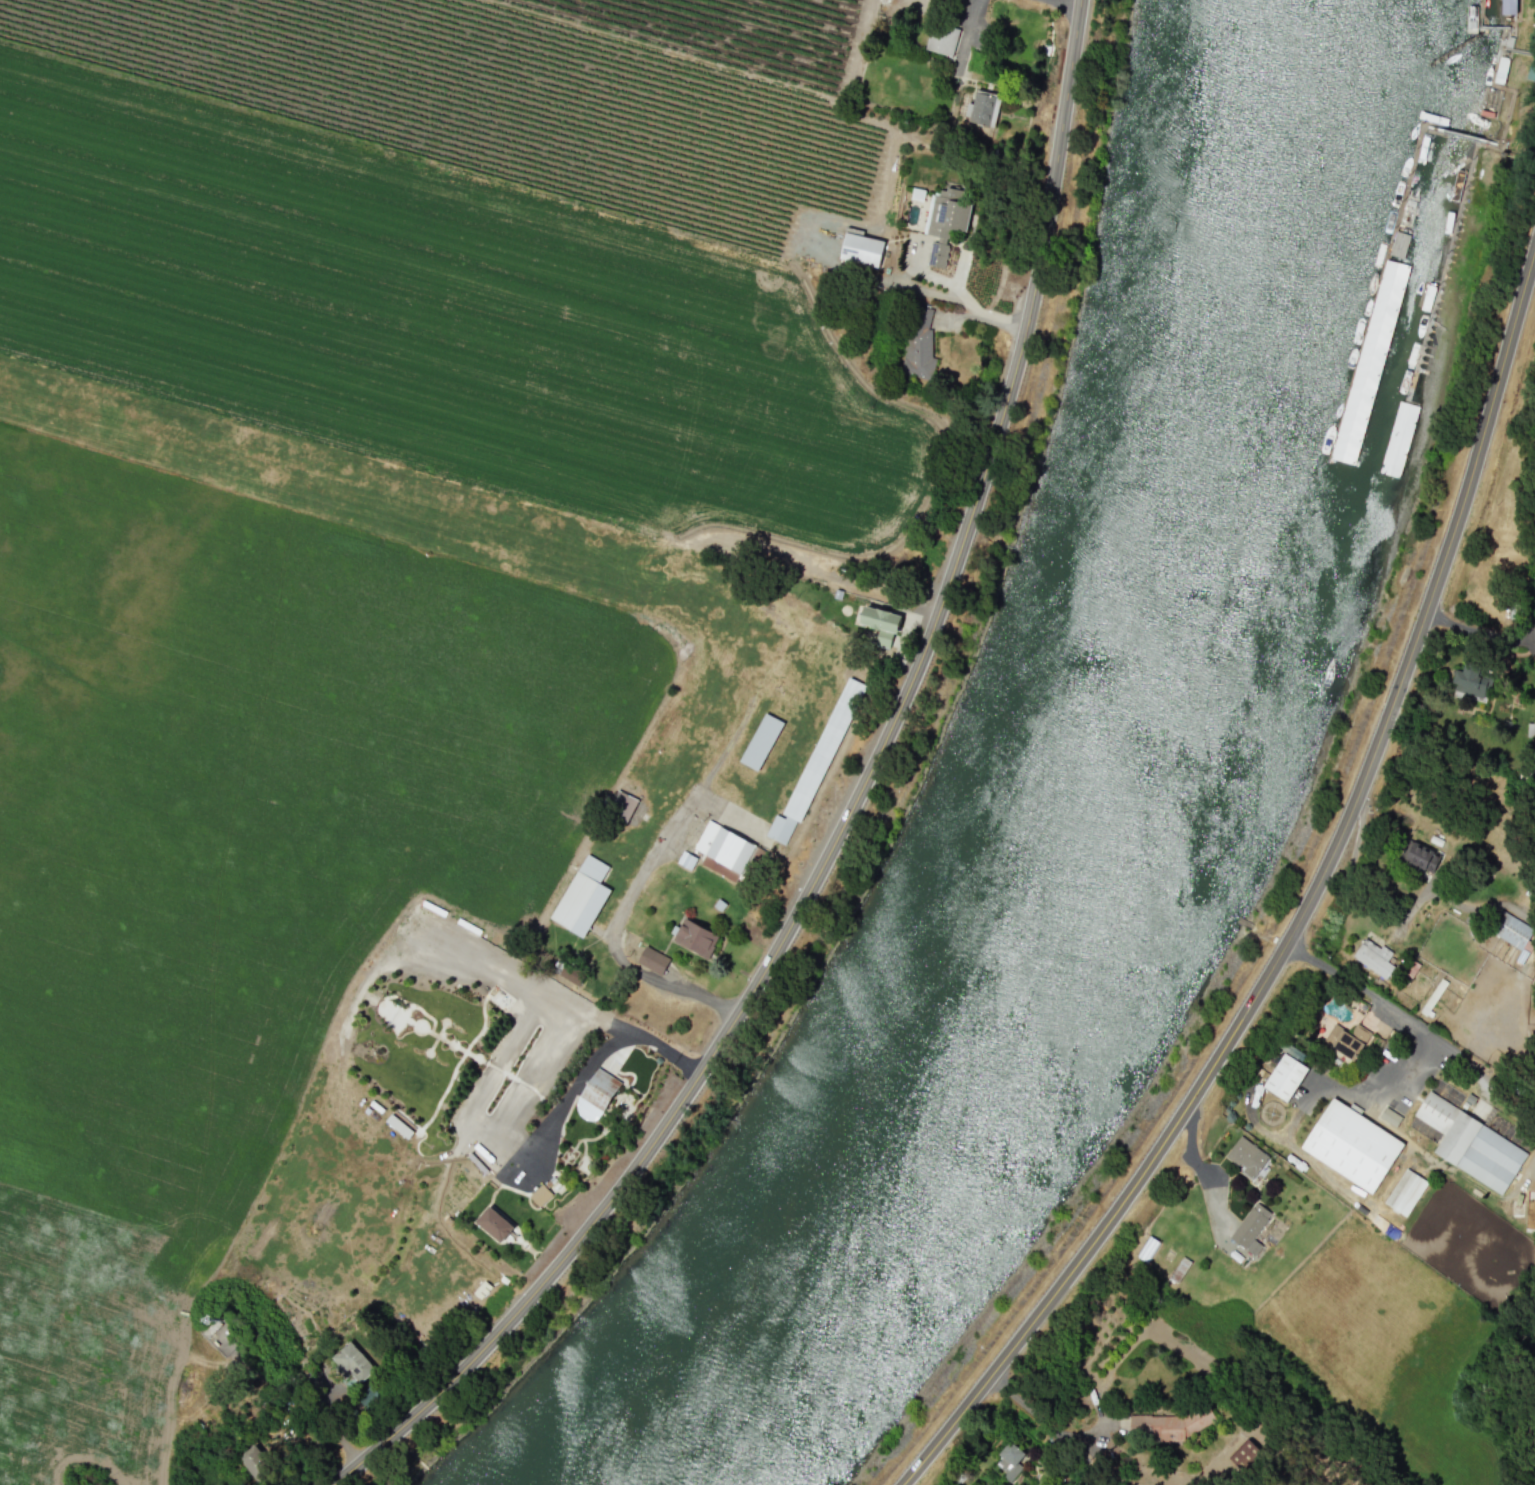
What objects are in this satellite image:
road: (1072, 2)
building: (942, 39)
building: (1531, 70)
building: (983, 108)
building: (944, 221)
building: (1398, 245)
building: (861, 249)
road: (967, 305)
building: (918, 343)
building: (1368, 361)
airport runway: (336, 483)
building: (881, 619)
road: (1471, 628)
building: (1471, 680)
building: (764, 744)
building: (656, 748)
airport: (750, 749)
building: (827, 751)
river: (1115, 805)
building: (624, 806)
road: (851, 815)
building: (780, 828)
building: (738, 853)
building: (1423, 856)
building: (687, 860)
building: (583, 905)
road: (1303, 912)
building: (1510, 929)
building: (696, 937)
road: (616, 952)
building: (1374, 957)
building: (652, 960)
road: (497, 965)
road: (1388, 1004)
building: (1352, 1036)
building: (1284, 1076)
building: (597, 1093)
building: (1390, 1116)
building: (400, 1124)
road: (488, 1129)
building: (1471, 1144)
building: (1351, 1145)
building: (1247, 1156)
road: (1199, 1170)
building: (1405, 1191)
building: (540, 1194)
building: (494, 1223)
building: (1250, 1228)
building: (352, 1362)
road: (1039, 1417)
building: (1166, 1424)
building: (1009, 1460)
building: (254, 1461)

